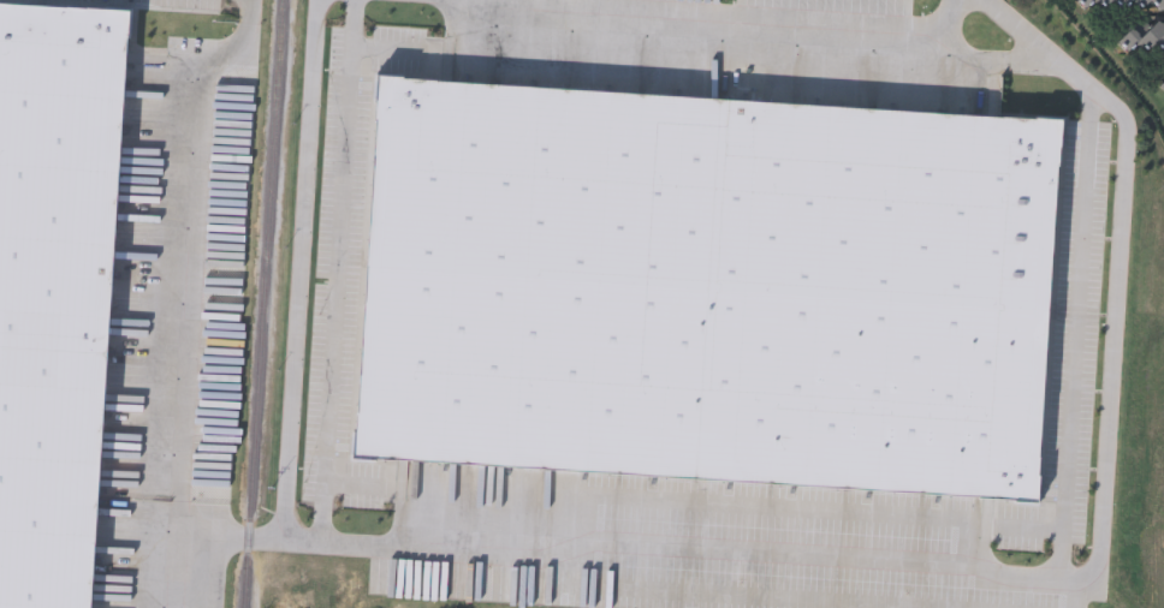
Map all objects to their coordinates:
road: (489, 0)
building: (1092, 4)
building: (1141, 4)
road: (250, 12)
road: (506, 28)
building: (1144, 36)
road: (249, 41)
road: (772, 46)
road: (188, 59)
road: (1004, 61)
building: (1162, 87)
road: (194, 261)
road: (1118, 267)
road: (301, 269)
road: (338, 270)
building: (703, 290)
building: (54, 292)
railway: (263, 303)
road: (1076, 336)
road: (777, 508)
road: (1016, 526)
road: (393, 548)
road: (790, 554)
road: (178, 555)
road: (1022, 579)
road: (1077, 594)
road: (737, 595)

